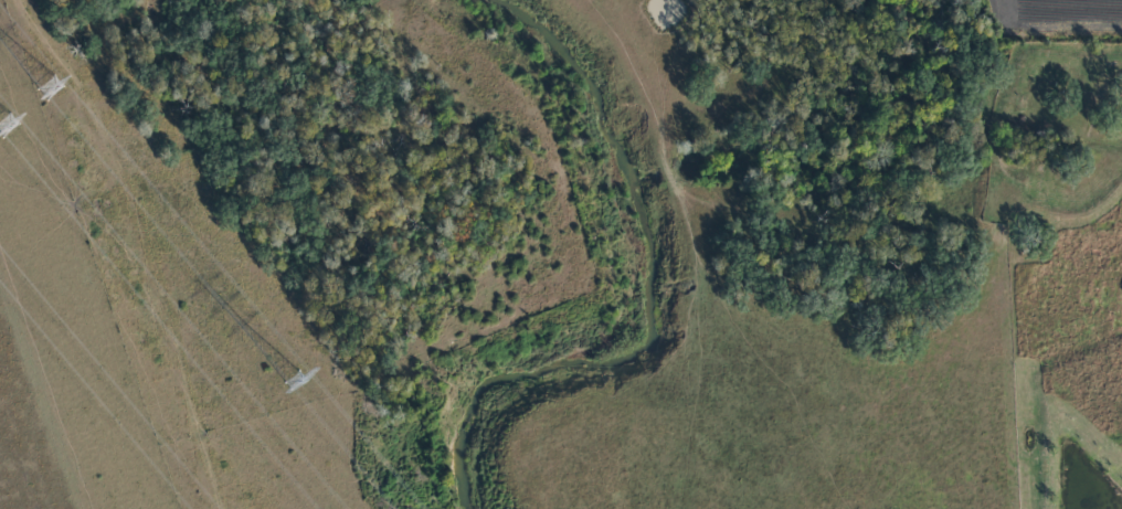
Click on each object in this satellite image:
power tower: (51, 87)
power tower: (6, 125)
river: (639, 278)

